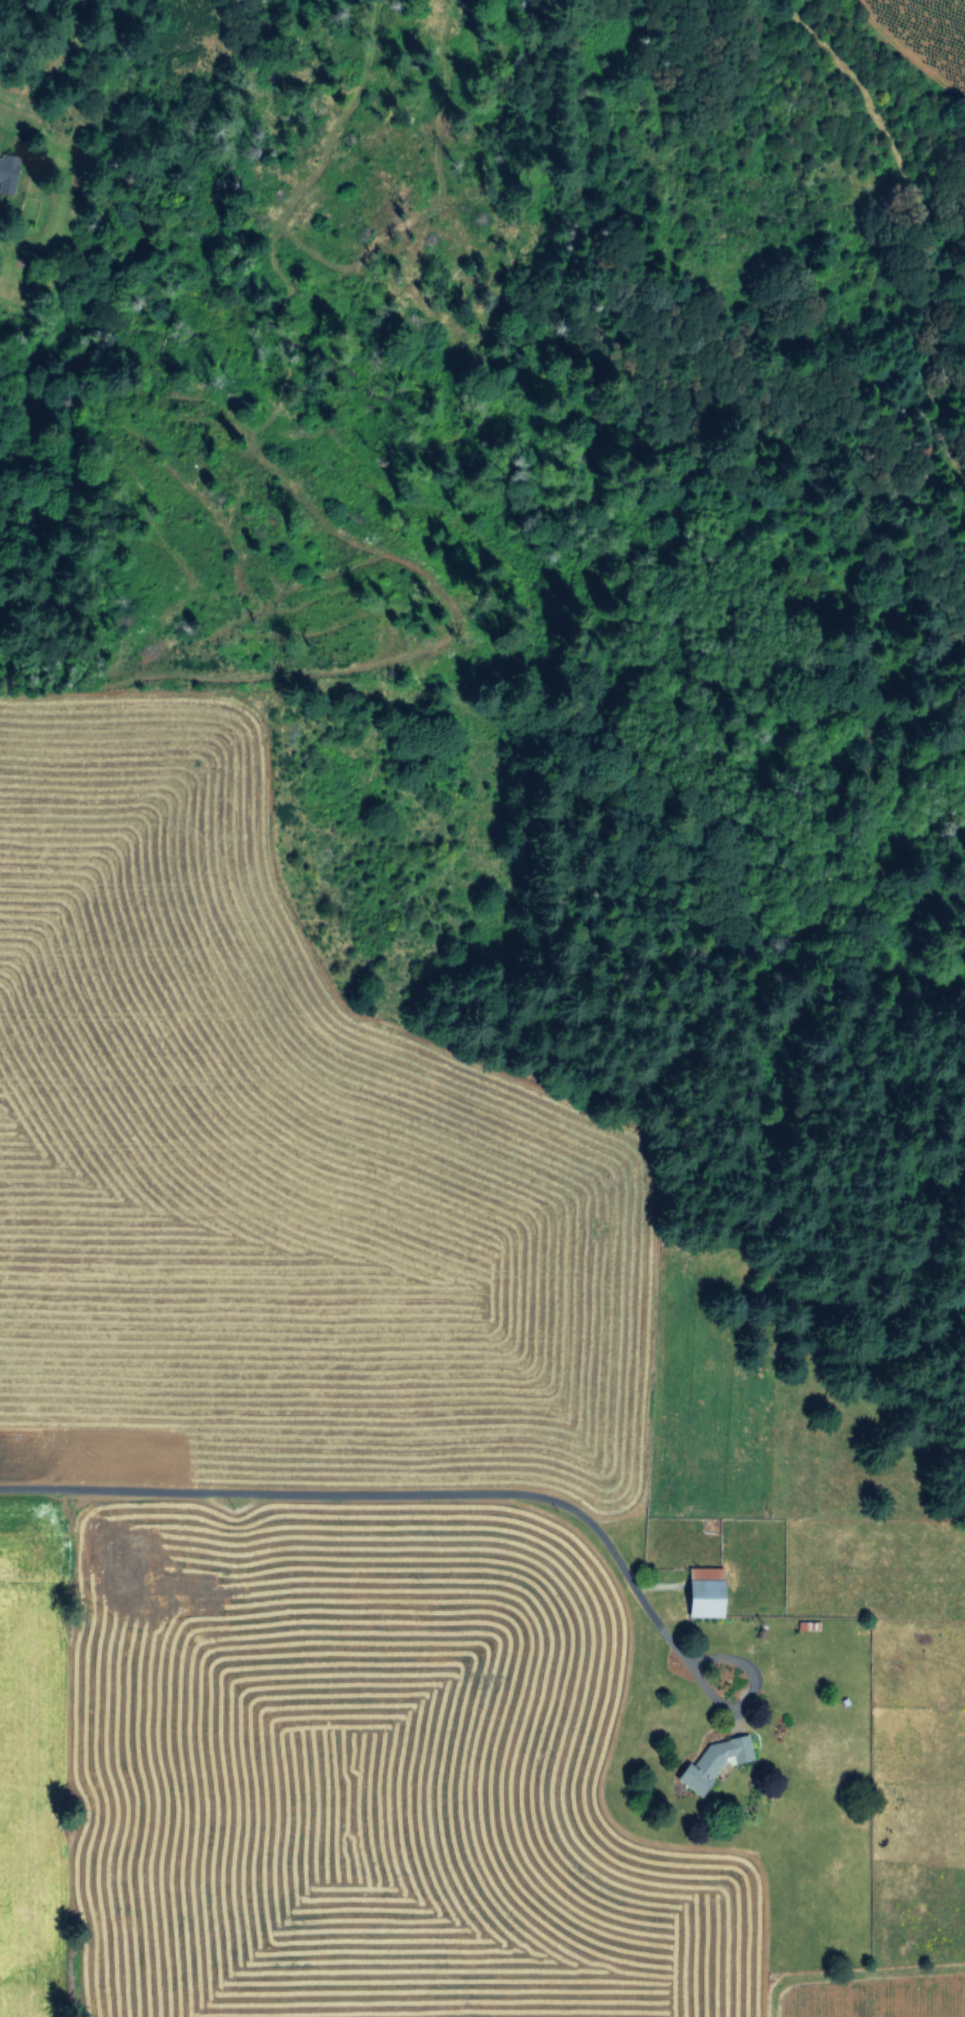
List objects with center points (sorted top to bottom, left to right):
road: (375, 1491)
building: (701, 1592)
road: (749, 1687)
road: (65, 1753)
building: (711, 1761)

